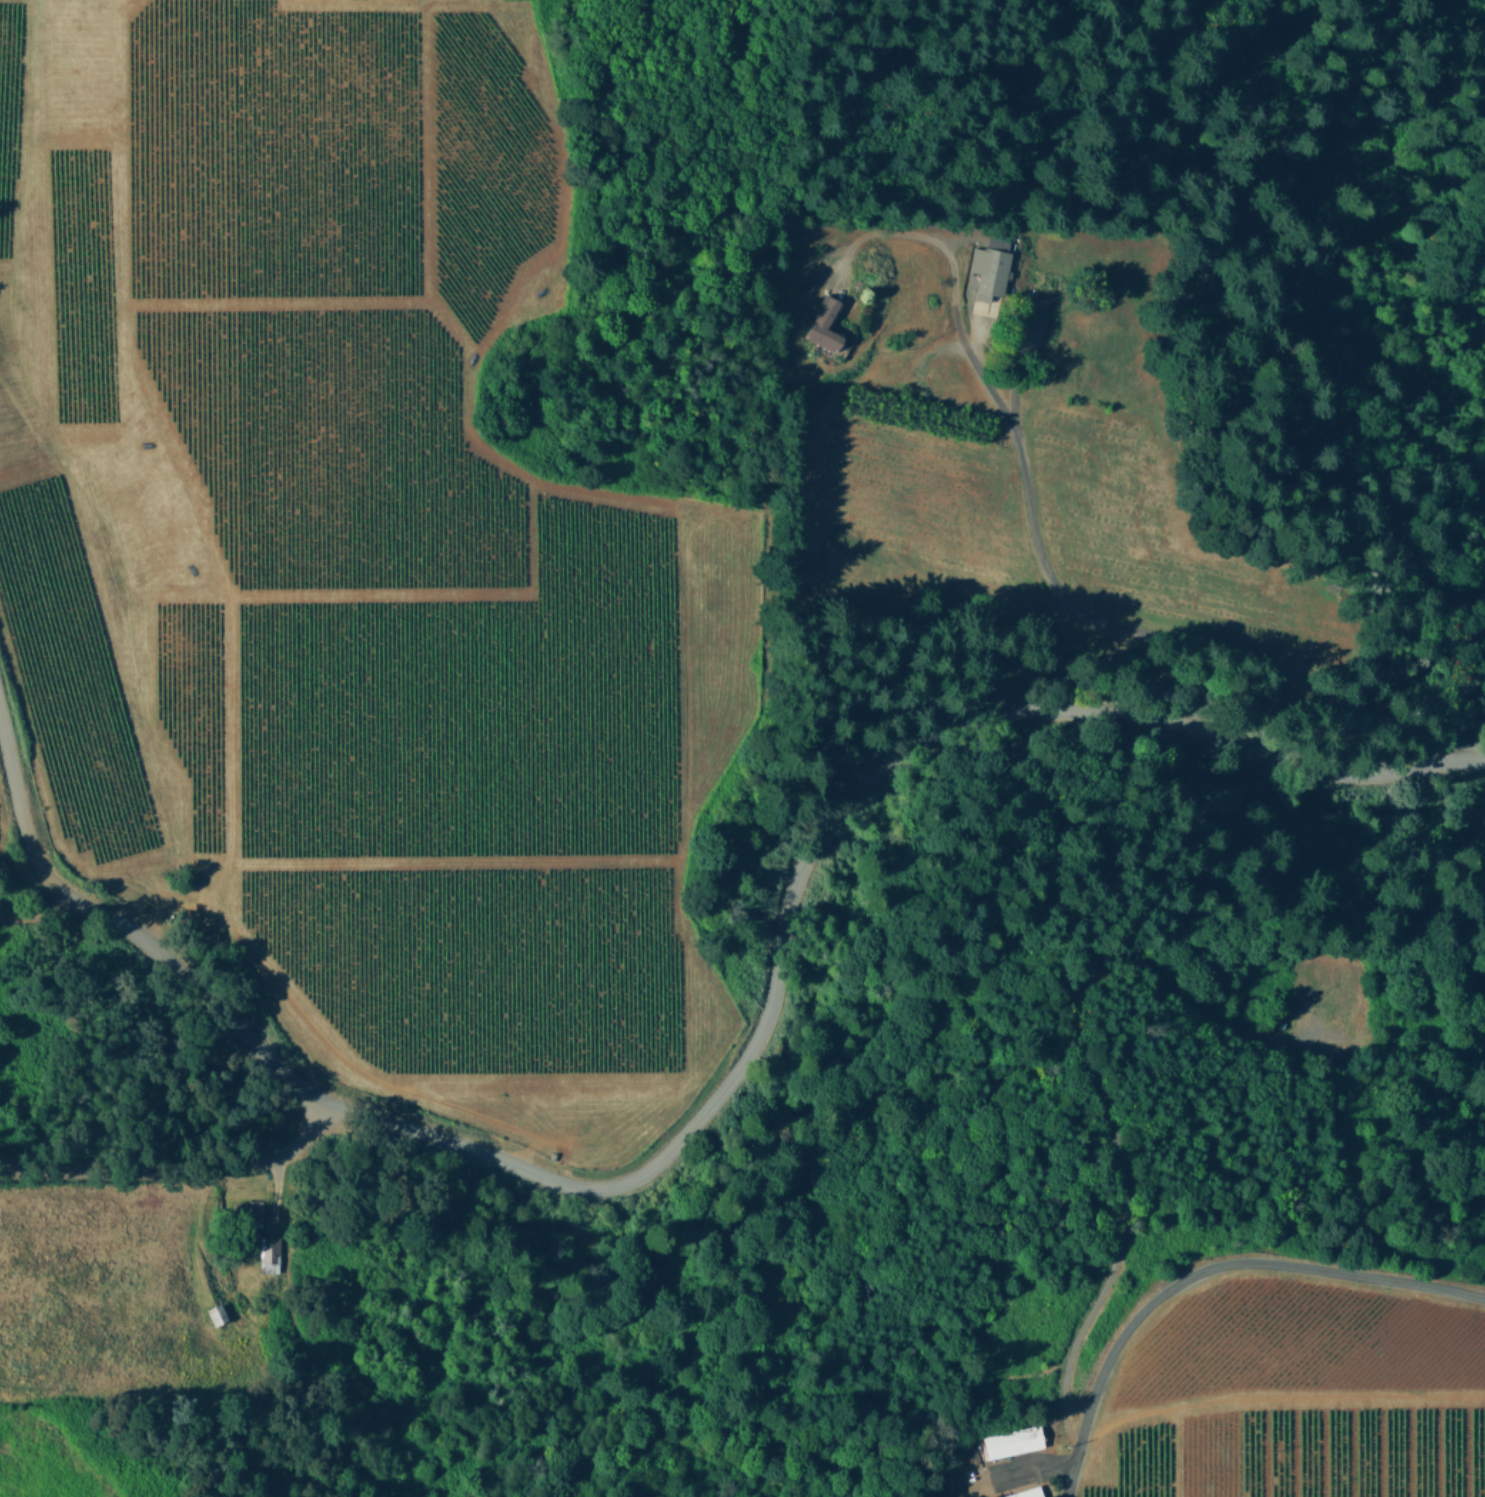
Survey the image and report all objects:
building: (991, 267)
building: (824, 323)
road: (1045, 569)
road: (36, 915)
road: (727, 1074)
road: (175, 1166)
building: (253, 1208)
building: (271, 1254)
road: (1207, 1269)
building: (216, 1313)
building: (1010, 1439)
building: (1022, 1492)

